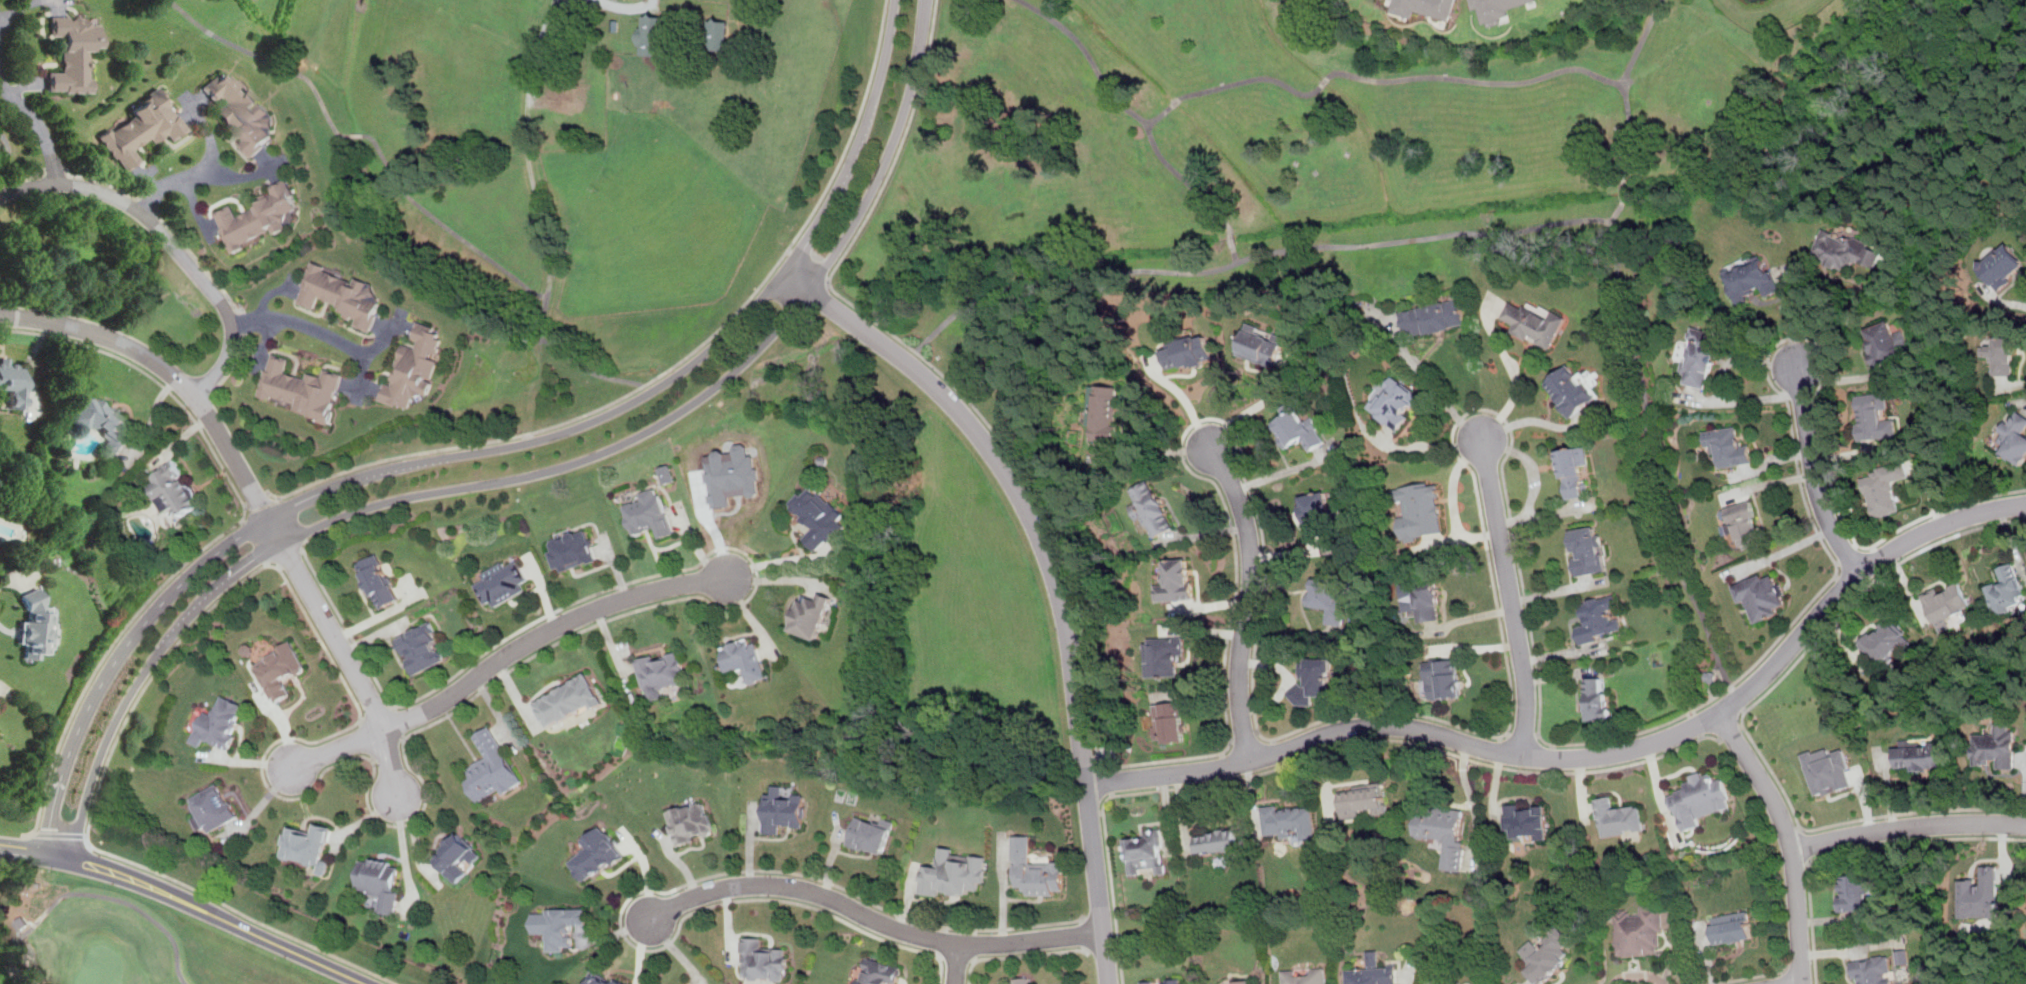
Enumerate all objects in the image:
road: (56, 4)
road: (621, 4)
building: (1425, 7)
road: (18, 8)
building: (1497, 8)
building: (653, 34)
building: (718, 34)
building: (71, 53)
road: (268, 59)
road: (1375, 81)
road: (24, 85)
road: (1624, 87)
building: (571, 97)
road: (192, 107)
road: (1127, 111)
building: (243, 114)
road: (40, 124)
building: (142, 128)
road: (355, 134)
road: (268, 165)
road: (205, 168)
road: (55, 171)
road: (235, 174)
road: (20, 178)
road: (147, 179)
road: (106, 182)
road: (1623, 191)
road: (150, 206)
road: (194, 206)
road: (1617, 213)
building: (256, 217)
road: (545, 228)
road: (1493, 236)
road: (169, 240)
road: (1233, 241)
building: (1844, 250)
road: (1235, 258)
road: (808, 263)
road: (201, 265)
building: (2002, 265)
road: (505, 270)
building: (1752, 278)
road: (291, 287)
road: (268, 291)
building: (338, 294)
road: (1999, 302)
road: (1848, 313)
building: (1433, 317)
road: (1788, 318)
road: (245, 322)
building: (1537, 323)
road: (390, 328)
road: (321, 331)
road: (385, 338)
road: (264, 340)
building: (1885, 343)
building: (1262, 345)
building: (1187, 352)
building: (2001, 355)
road: (1741, 358)
building: (1699, 360)
road: (680, 363)
road: (235, 364)
road: (1510, 366)
building: (413, 368)
road: (1844, 376)
road: (151, 377)
building: (12, 383)
road: (358, 383)
road: (2012, 383)
building: (299, 388)
building: (1571, 390)
road: (1440, 396)
road: (207, 398)
road: (1184, 398)
road: (1740, 398)
road: (1258, 403)
building: (1394, 403)
building: (1107, 412)
building: (1874, 417)
road: (1534, 419)
building: (101, 422)
building: (1299, 428)
building: (2014, 437)
road: (1422, 446)
building: (1728, 446)
road: (1852, 450)
road: (490, 451)
road: (1155, 456)
road: (1774, 456)
road: (1529, 463)
road: (1285, 469)
building: (1573, 469)
building: (666, 474)
road: (1814, 474)
road: (534, 476)
building: (732, 476)
road: (1770, 482)
road: (1451, 483)
building: (1884, 488)
building: (173, 489)
road: (1928, 493)
road: (274, 494)
road: (255, 496)
road: (258, 500)
building: (1151, 508)
building: (1420, 510)
road: (1542, 511)
building: (1316, 512)
building: (650, 514)
road: (2024, 514)
building: (818, 516)
road: (292, 518)
building: (1744, 523)
road: (1204, 533)
road: (1455, 538)
road: (2007, 539)
road: (1854, 543)
road: (306, 544)
road: (1871, 547)
road: (1784, 549)
building: (1587, 550)
road: (1289, 551)
road: (288, 552)
building: (572, 552)
road: (1845, 553)
road: (1881, 554)
road: (778, 560)
road: (1836, 561)
road: (1893, 562)
road: (1053, 574)
road: (1835, 575)
road: (1841, 579)
building: (1176, 580)
building: (378, 582)
building: (502, 583)
road: (1556, 588)
building: (2006, 591)
road: (1508, 595)
building: (1761, 595)
building: (1424, 597)
building: (1327, 599)
road: (1247, 601)
road: (1211, 605)
building: (1946, 606)
building: (812, 614)
road: (1469, 617)
building: (1598, 618)
building: (36, 625)
road: (1204, 632)
road: (1286, 637)
building: (1886, 641)
road: (561, 642)
building: (422, 648)
road: (1476, 648)
road: (112, 651)
road: (1557, 651)
building: (1163, 655)
road: (502, 658)
building: (744, 659)
building: (281, 670)
building: (662, 672)
road: (1556, 674)
building: (1710, 675)
road: (152, 679)
building: (1444, 679)
road: (1285, 680)
building: (1313, 681)
road: (1713, 684)
road: (1731, 686)
road: (1736, 697)
building: (1596, 699)
building: (569, 700)
road: (1744, 708)
road: (1398, 710)
road: (1690, 712)
road: (1742, 714)
road: (362, 722)
road: (404, 722)
building: (1169, 722)
building: (221, 723)
road: (1695, 724)
road: (1740, 724)
road: (1729, 729)
road: (1255, 731)
road: (1507, 733)
road: (1521, 734)
road: (1537, 734)
road: (1700, 735)
road: (1243, 737)
road: (1498, 737)
road: (1231, 740)
road: (1273, 740)
road: (1498, 744)
road: (1552, 745)
road: (1274, 747)
building: (1995, 747)
road: (387, 749)
road: (1322, 749)
road: (1220, 754)
building: (1919, 755)
road: (1589, 756)
road: (1551, 757)
road: (1223, 766)
road: (1105, 767)
building: (491, 768)
road: (1551, 770)
building: (1826, 770)
road: (1324, 773)
road: (1226, 778)
road: (1107, 780)
road: (1493, 787)
road: (1111, 792)
road: (1658, 792)
road: (1580, 793)
road: (1887, 793)
road: (1251, 794)
road: (1469, 799)
building: (1699, 799)
road: (2023, 799)
road: (1865, 800)
building: (1363, 801)
road: (1164, 804)
road: (259, 806)
building: (214, 808)
building: (784, 809)
road: (1093, 811)
road: (1100, 811)
road: (1181, 811)
building: (1619, 817)
building: (1289, 820)
building: (1528, 820)
building: (692, 823)
road: (1906, 827)
road: (1800, 828)
building: (1444, 832)
building: (871, 835)
road: (1786, 839)
building: (1218, 840)
building: (307, 845)
road: (749, 845)
road: (1802, 845)
road: (1855, 848)
road: (36, 852)
building: (1147, 853)
building: (597, 854)
road: (830, 855)
building: (458, 857)
road: (681, 862)
road: (1808, 862)
building: (1035, 869)
building: (955, 871)
road: (2000, 872)
road: (646, 873)
building: (381, 881)
road: (843, 888)
building: (1855, 892)
road: (1002, 893)
building: (1979, 895)
road: (108, 896)
road: (212, 896)
road: (905, 898)
road: (782, 899)
road: (872, 917)
road: (222, 918)
road: (1821, 919)
building: (20, 923)
road: (726, 924)
building: (562, 925)
building: (1731, 927)
road: (616, 931)
building: (1638, 931)
park: (118, 939)
road: (975, 944)
road: (1851, 949)
road: (676, 950)
road: (643, 952)
road: (1019, 953)
road: (1705, 954)
building: (1546, 955)
road: (957, 957)
building: (1902, 957)
building: (764, 961)
road: (957, 962)
park: (101, 966)
building: (1873, 970)
building: (879, 972)
building: (1372, 972)
road: (1406, 973)
road: (1635, 974)
building: (1305, 975)
road: (1747, 977)
road: (1785, 977)
building: (603, 978)
building: (1022, 980)
building: (1163, 981)
building: (1241, 981)
road: (1429, 981)
building: (1448, 982)

